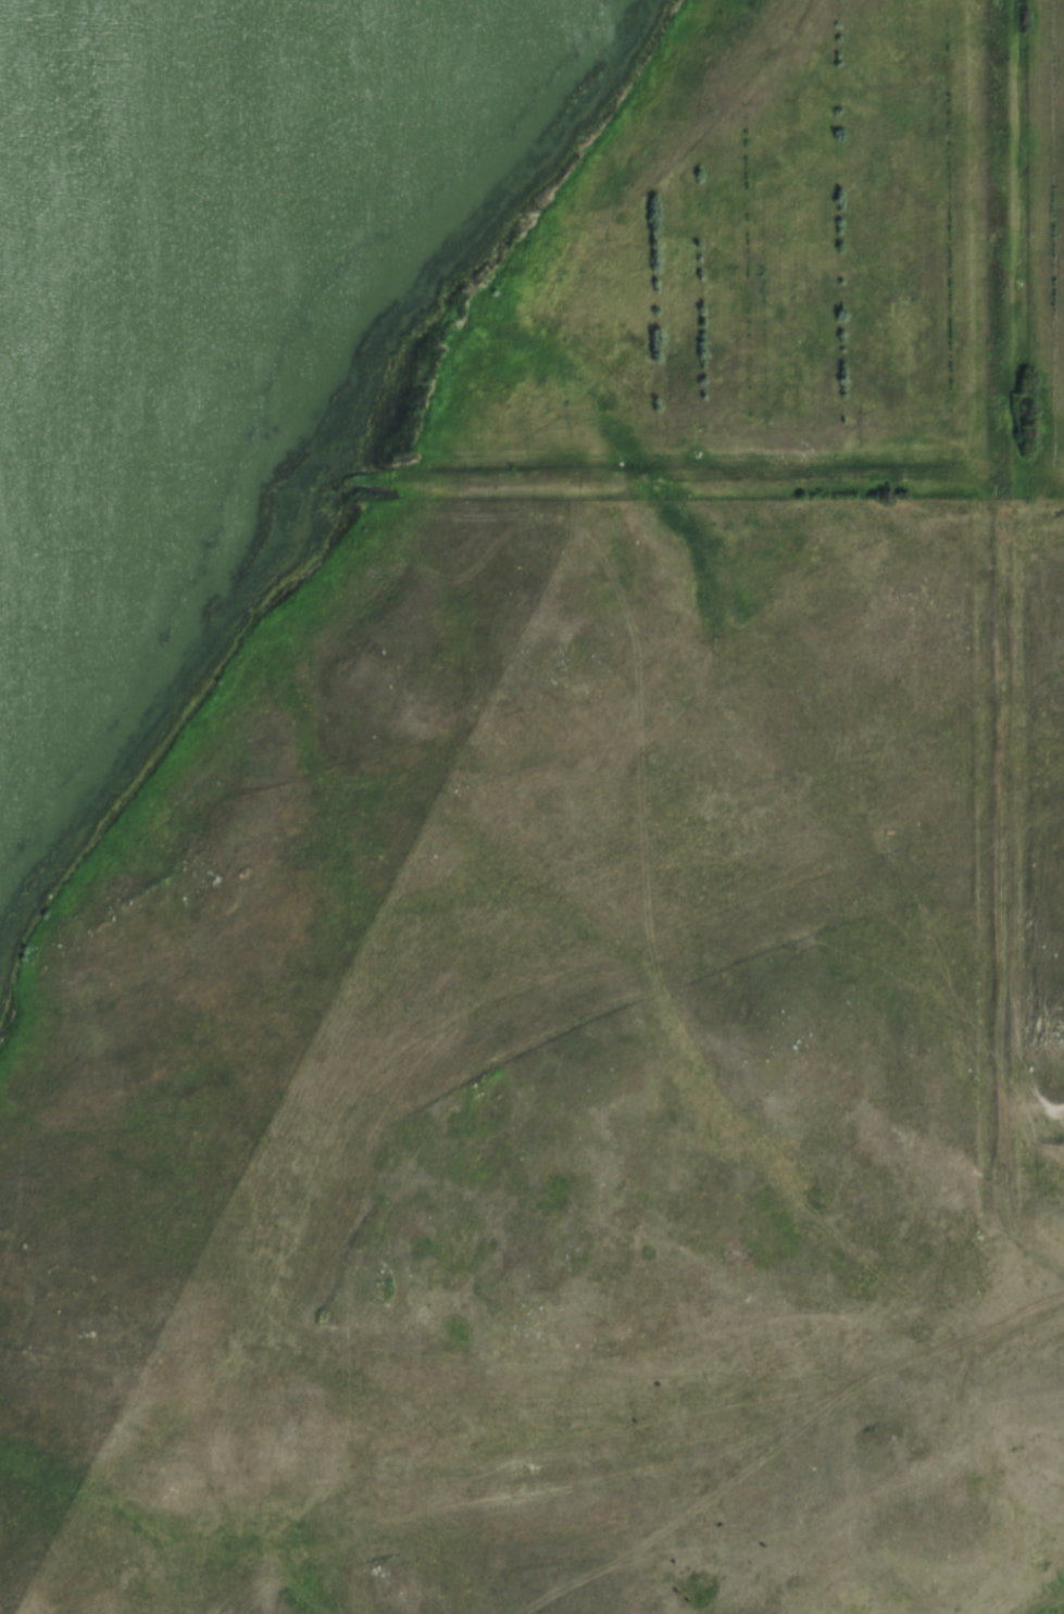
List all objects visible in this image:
road: (824, 1482)

